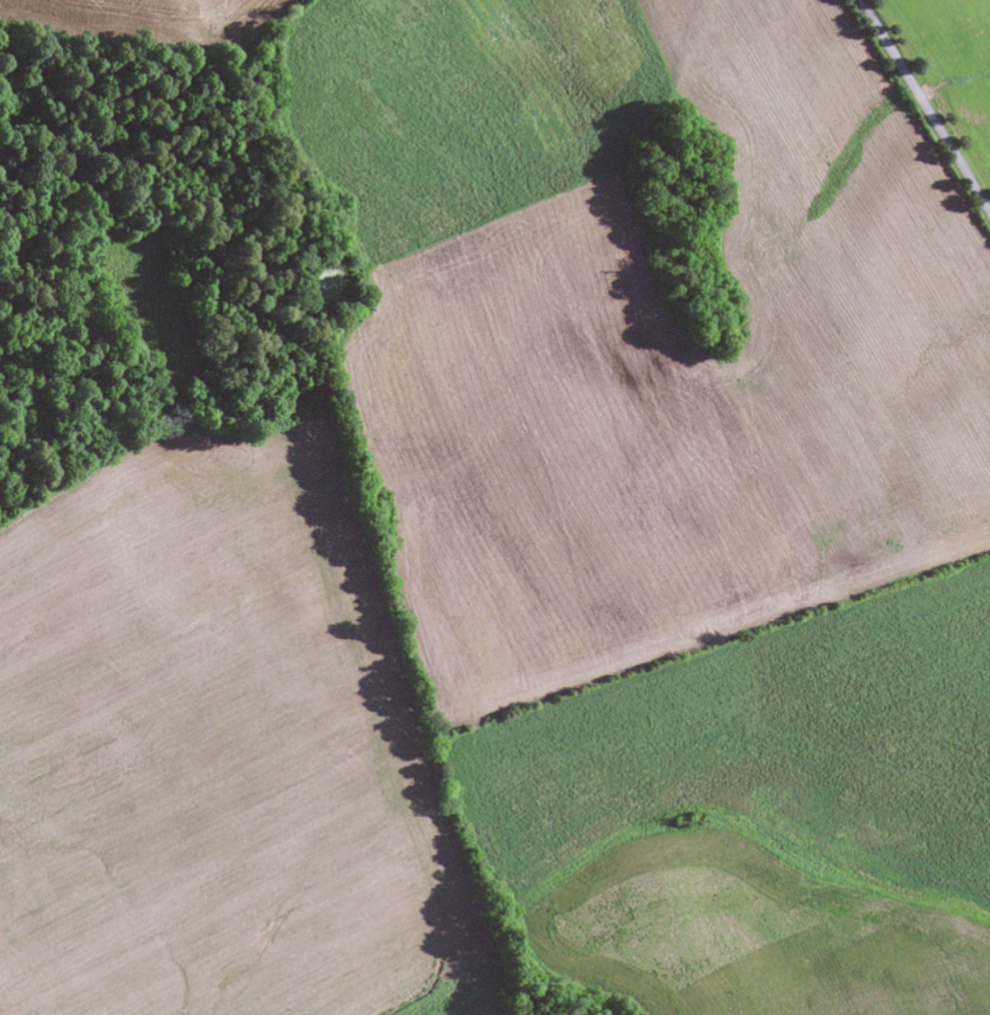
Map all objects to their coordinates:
road: (923, 109)

